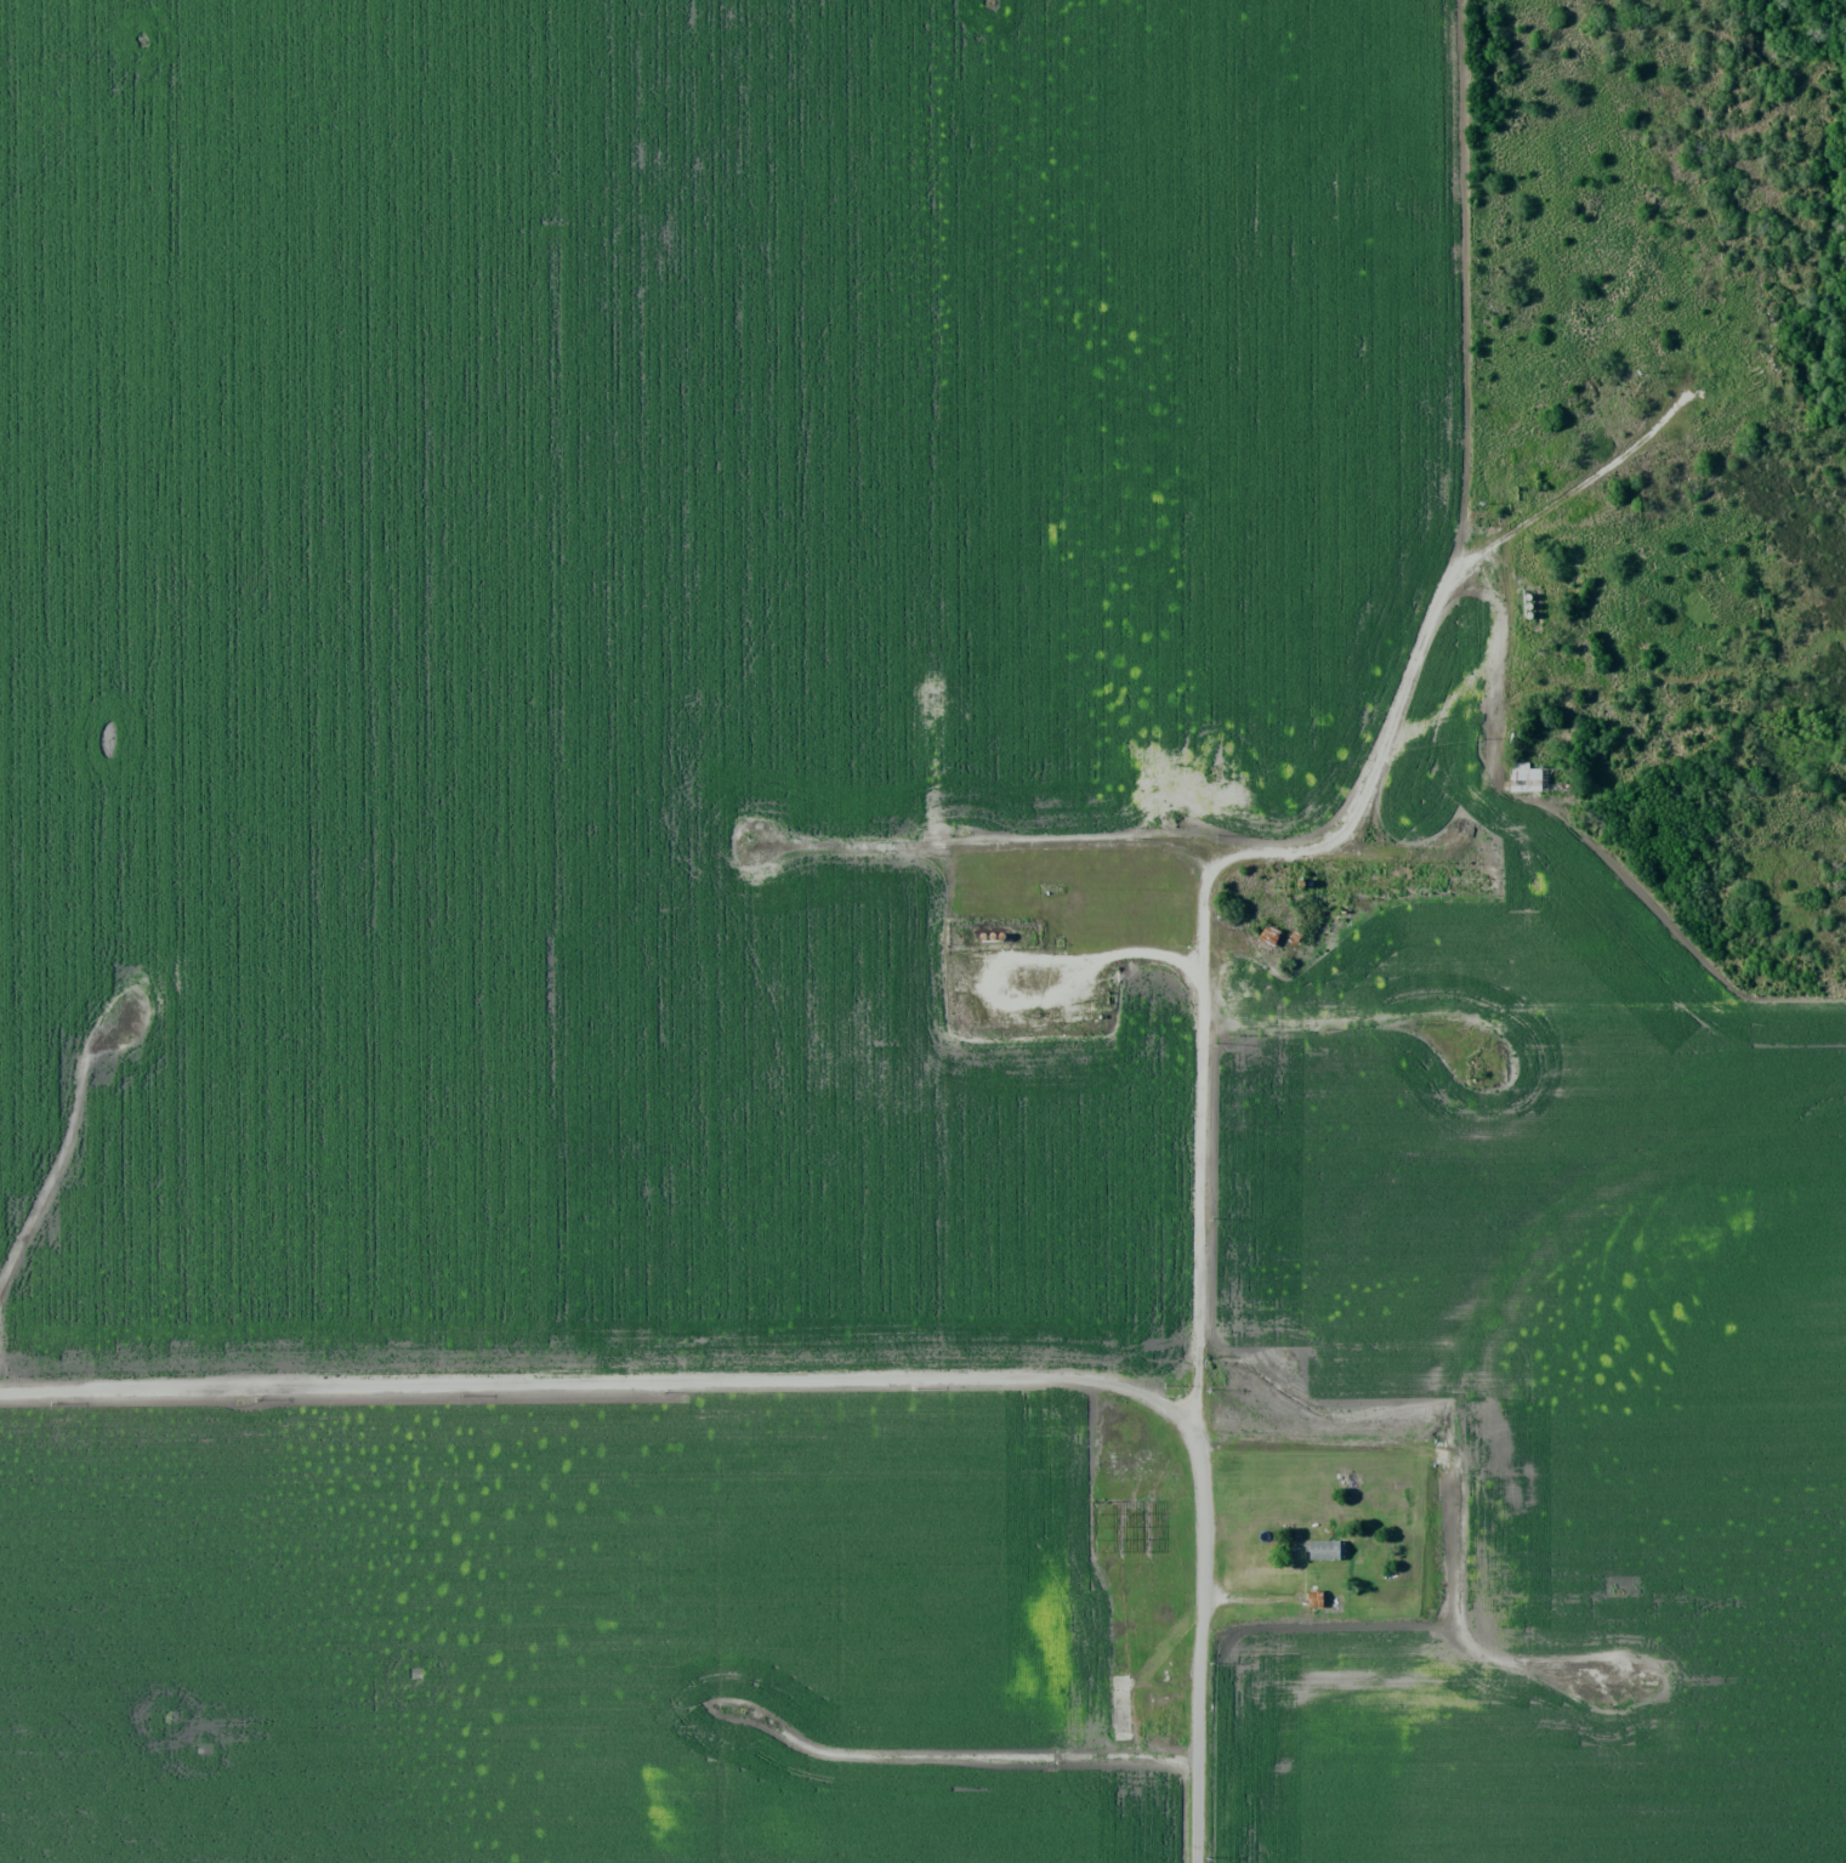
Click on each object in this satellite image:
building: (1538, 778)
building: (1268, 935)
road: (1204, 1364)
road: (610, 1388)
building: (1324, 1549)

